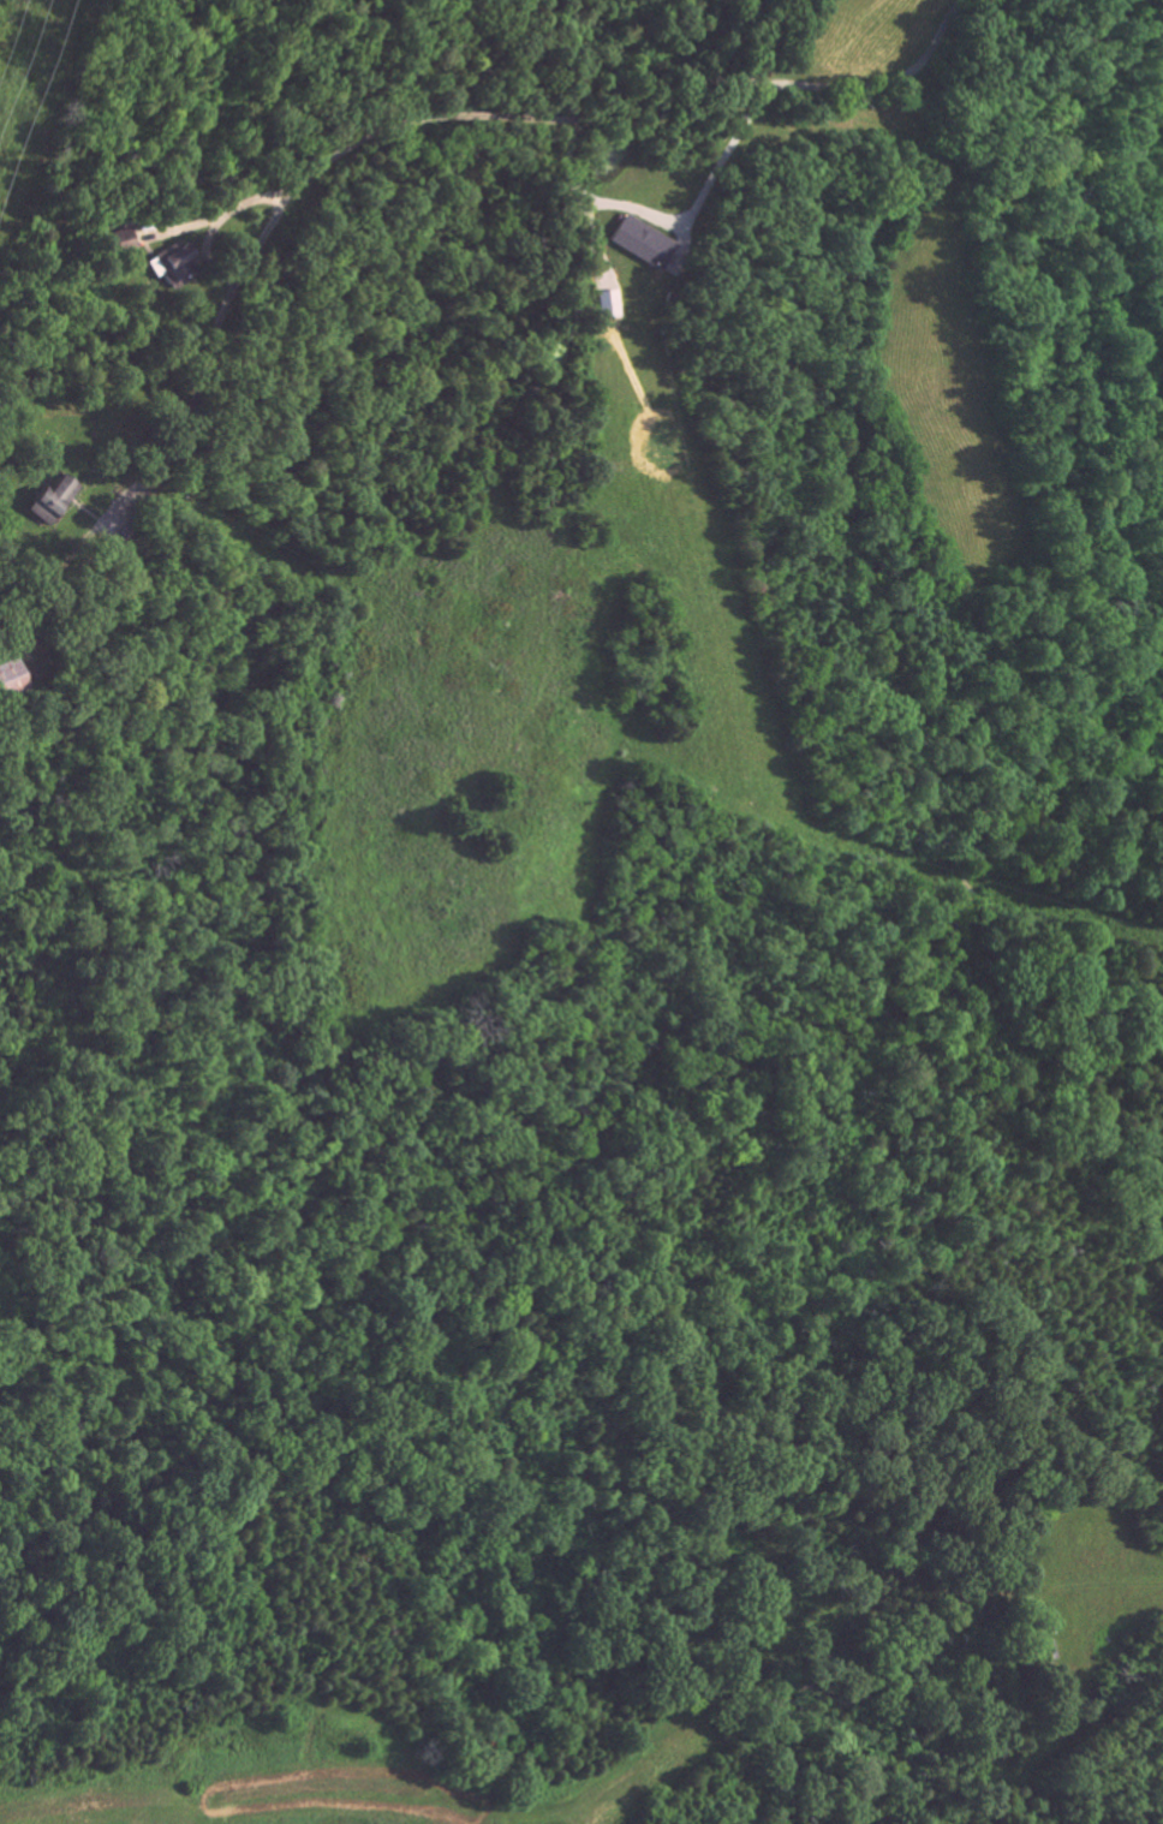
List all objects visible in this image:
road: (439, 117)
road: (726, 154)
road: (595, 197)
road: (231, 207)
building: (690, 219)
building: (222, 239)
building: (105, 477)
building: (60, 656)

